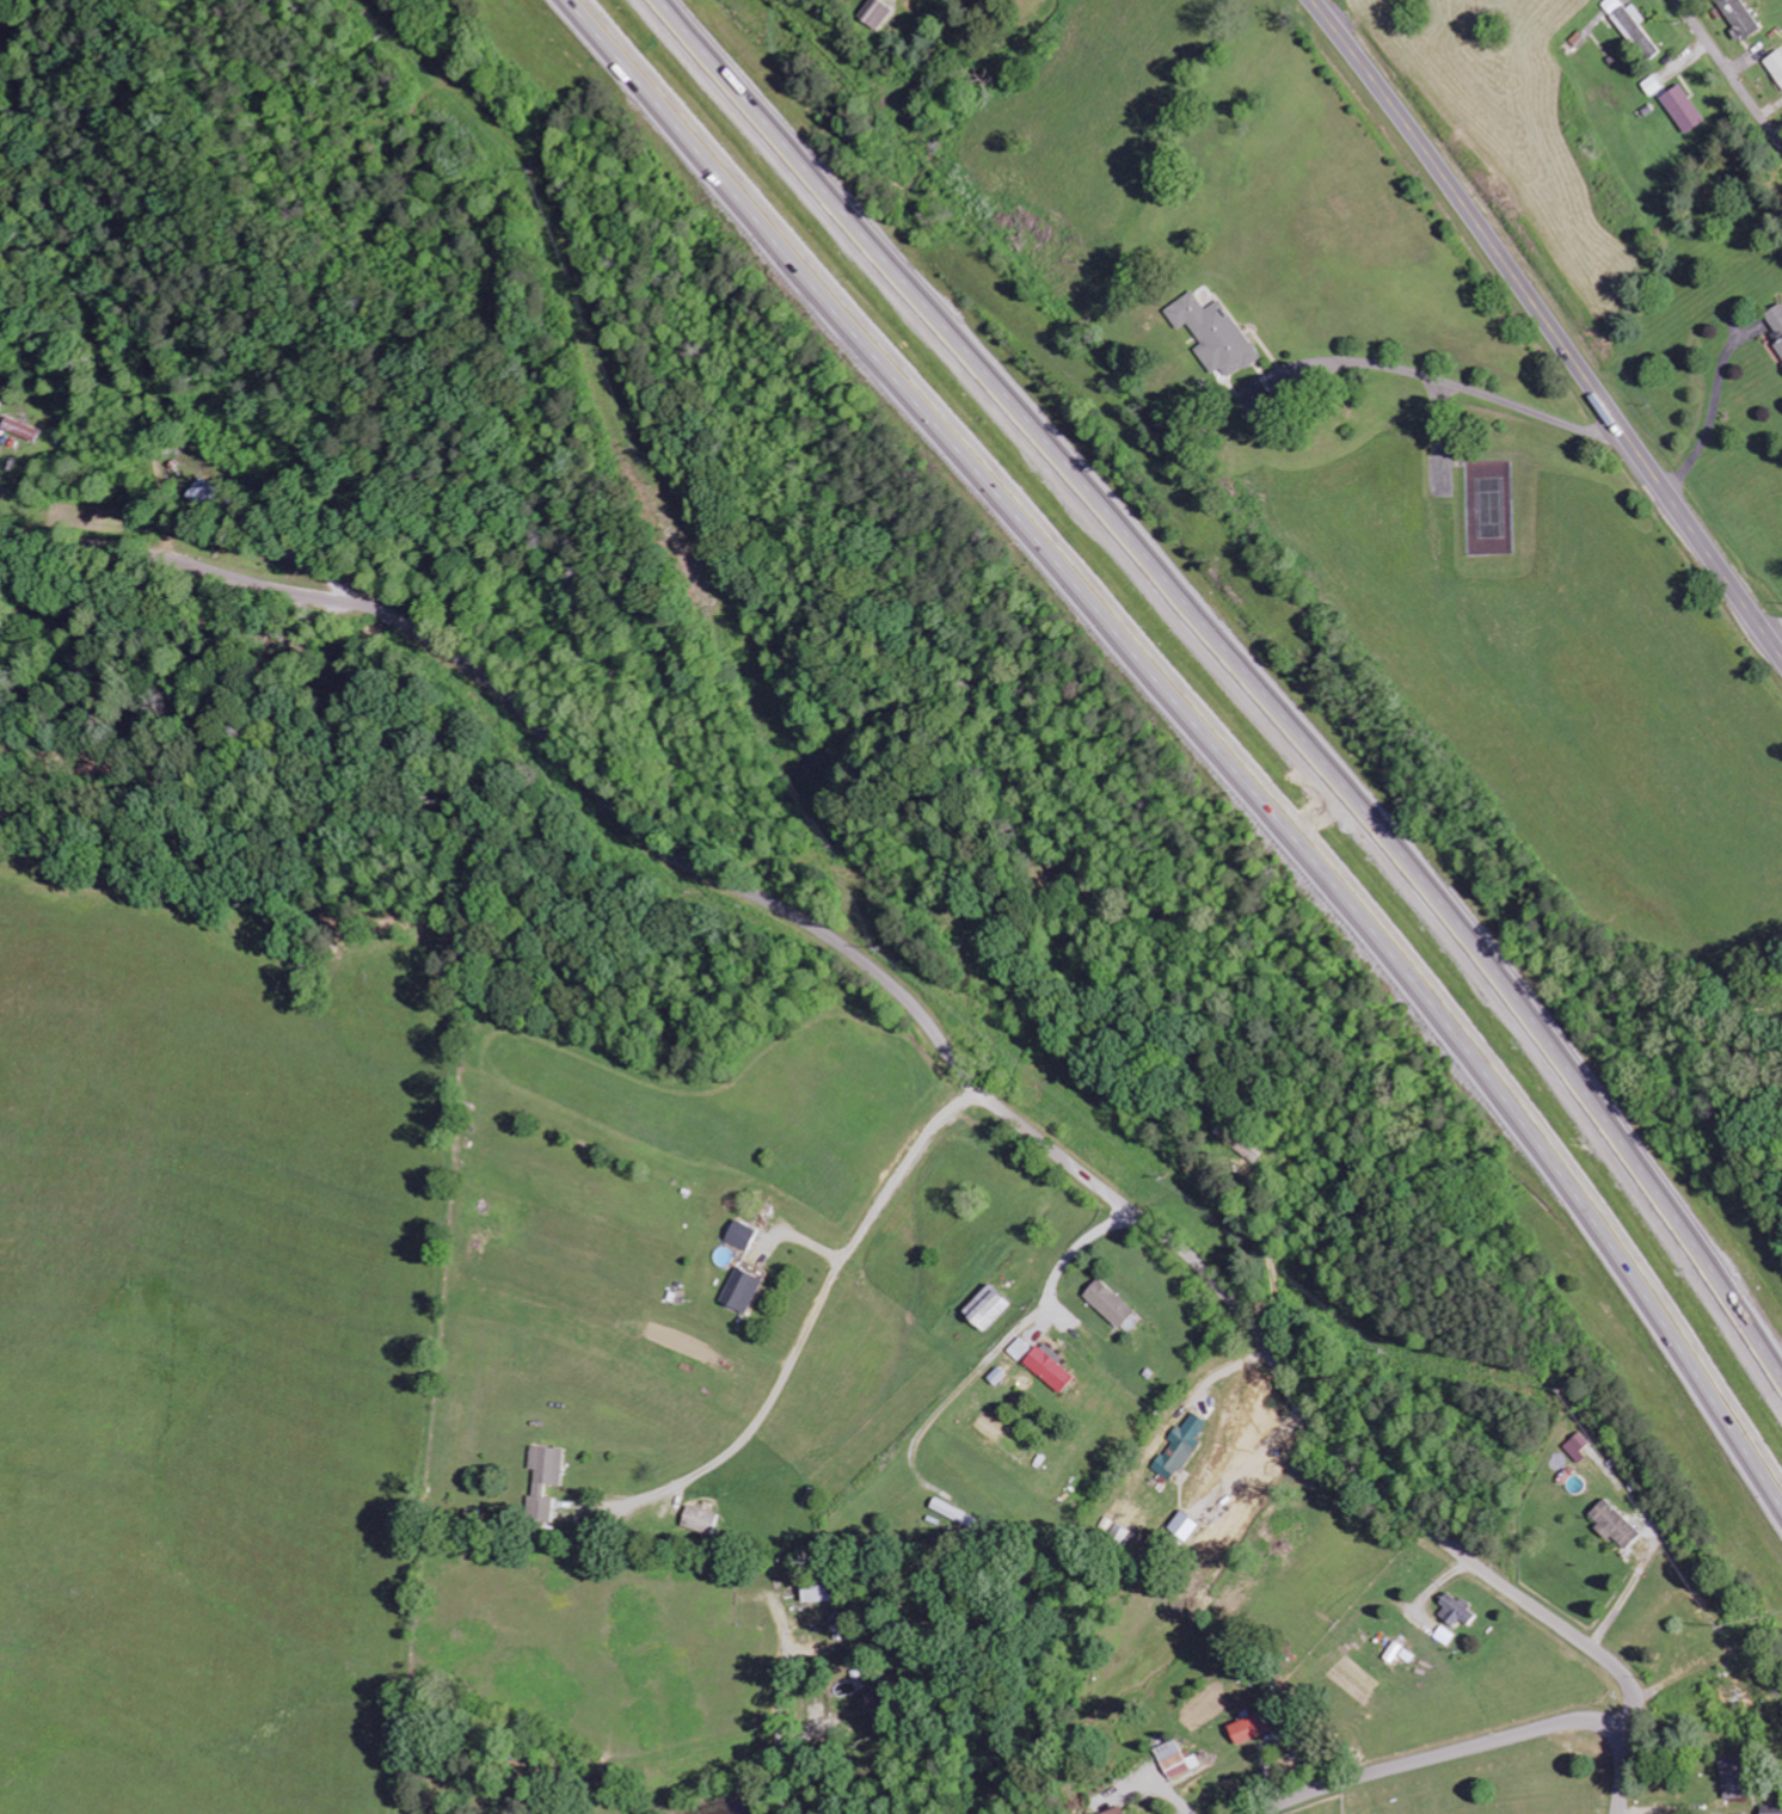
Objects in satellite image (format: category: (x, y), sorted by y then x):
building: (875, 13)
building: (1741, 17)
building: (1634, 29)
building: (1776, 64)
road: (1729, 70)
building: (1684, 109)
road: (1549, 325)
building: (1215, 334)
building: (21, 429)
road: (1776, 633)
road: (1239, 676)
road: (1209, 722)
road: (907, 994)
building: (742, 1234)
building: (741, 1290)
building: (1111, 1303)
building: (988, 1306)
road: (809, 1329)
building: (1021, 1348)
building: (1051, 1366)
building: (1578, 1445)
building: (1180, 1447)
building: (543, 1480)
building: (698, 1519)
building: (1615, 1524)
building: (817, 1591)
building: (1458, 1611)
building: (1446, 1635)
building: (1249, 1728)
road: (1443, 1754)
building: (1176, 1759)
road: (1626, 1770)
building: (1734, 1776)
building: (1770, 1809)
building: (1116, 1810)

